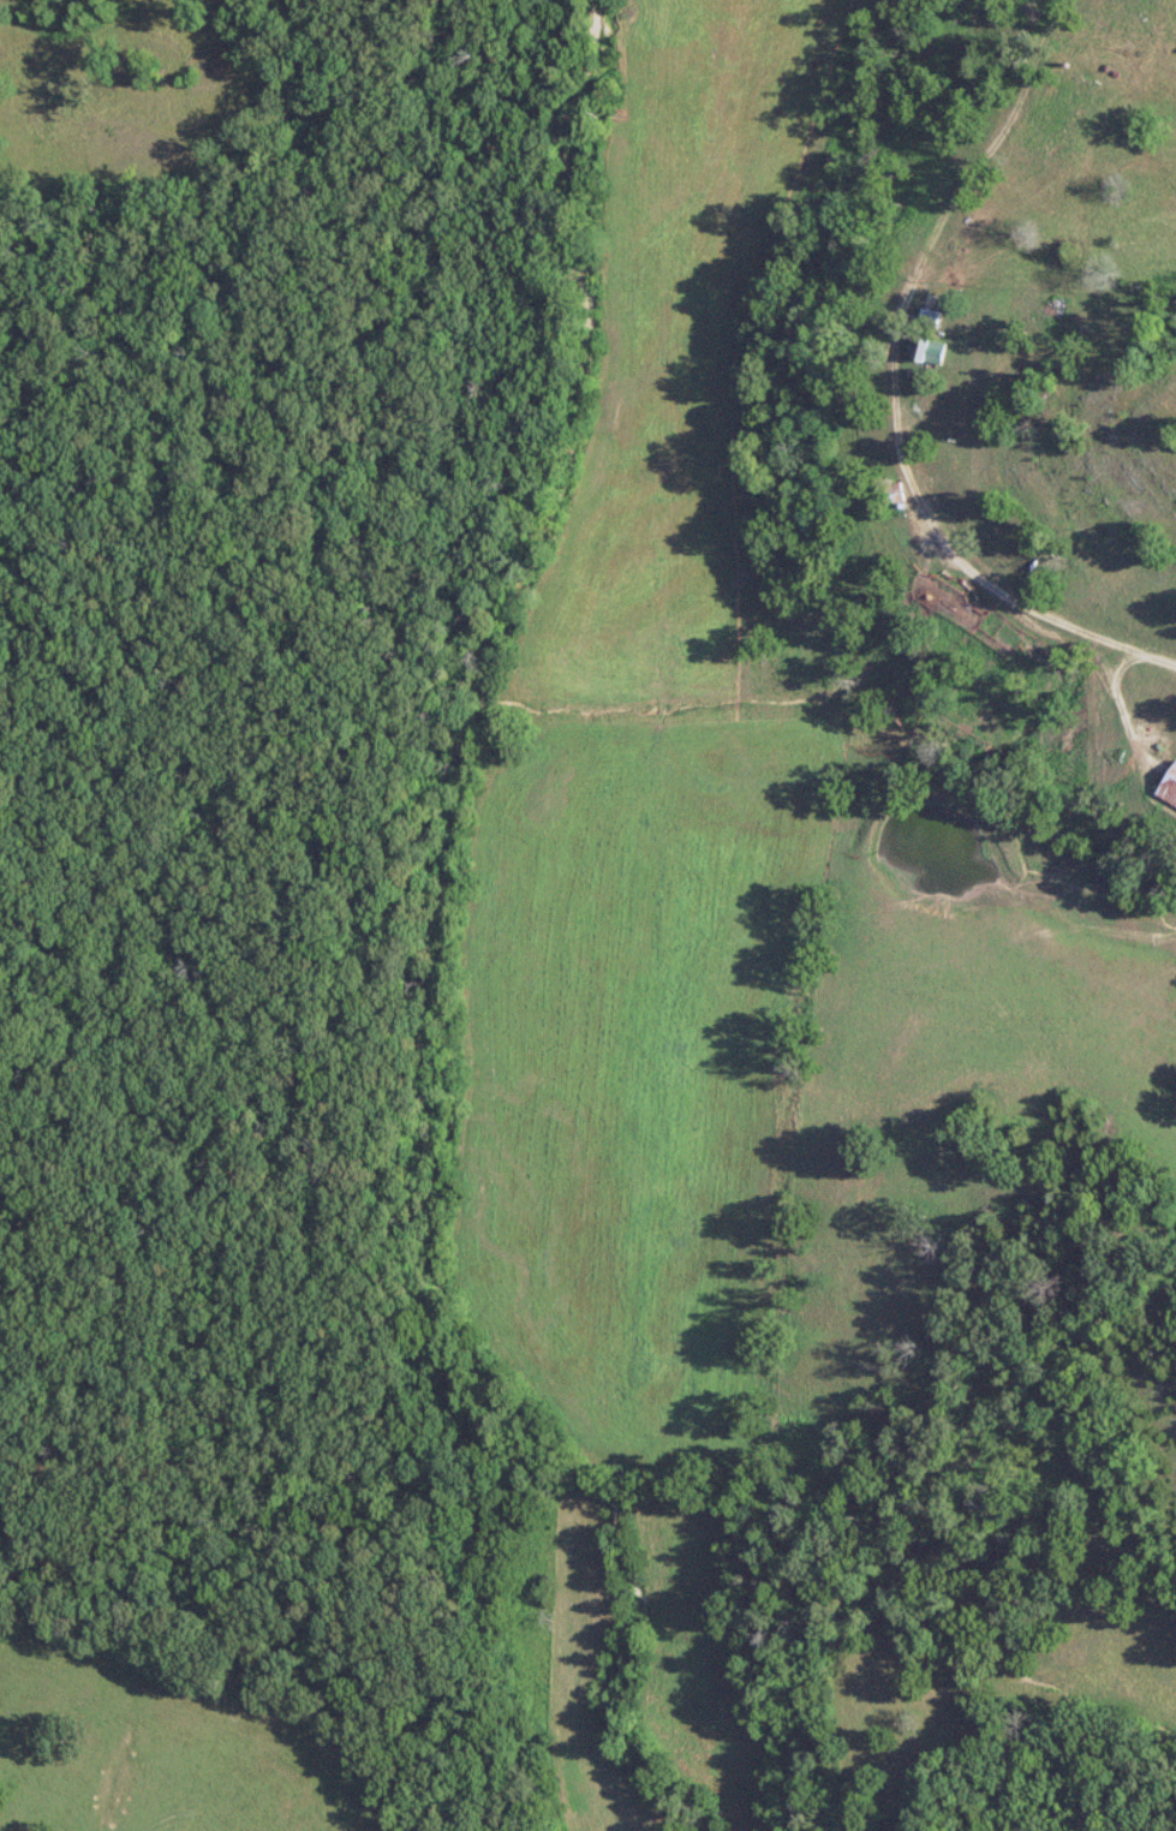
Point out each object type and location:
building: (927, 317)
building: (927, 350)
road: (968, 572)
building: (1168, 785)

